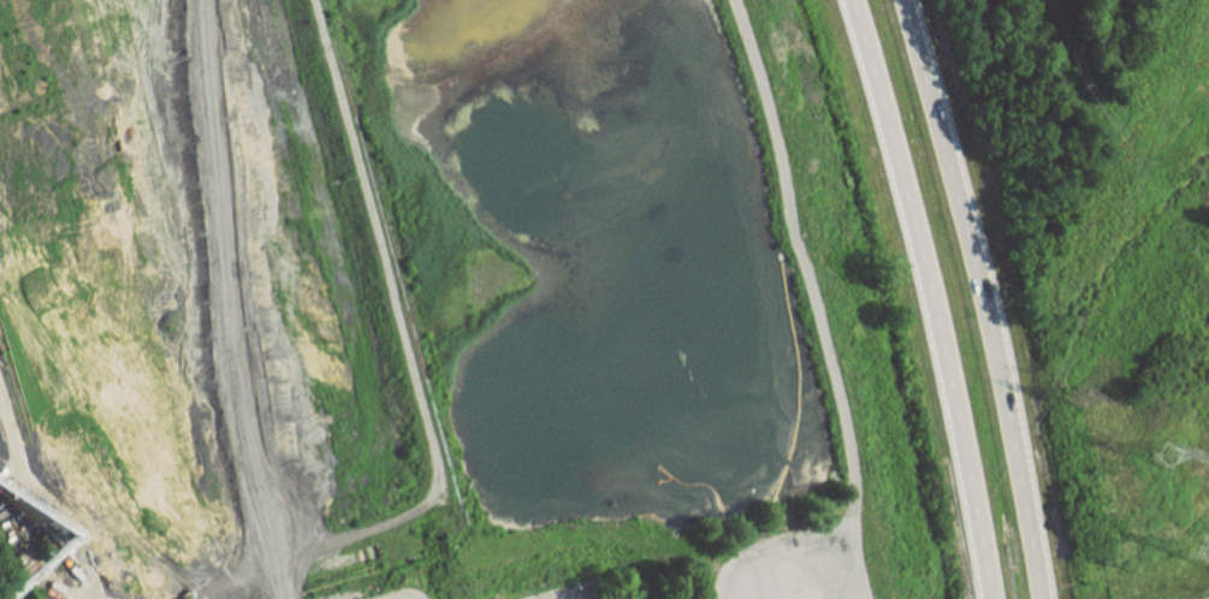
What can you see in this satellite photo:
road: (1114, 143)
road: (932, 297)
road: (982, 297)
power tower: (1168, 452)
parking lot: (569, 589)
helipad: (794, 591)
road: (404, 597)

